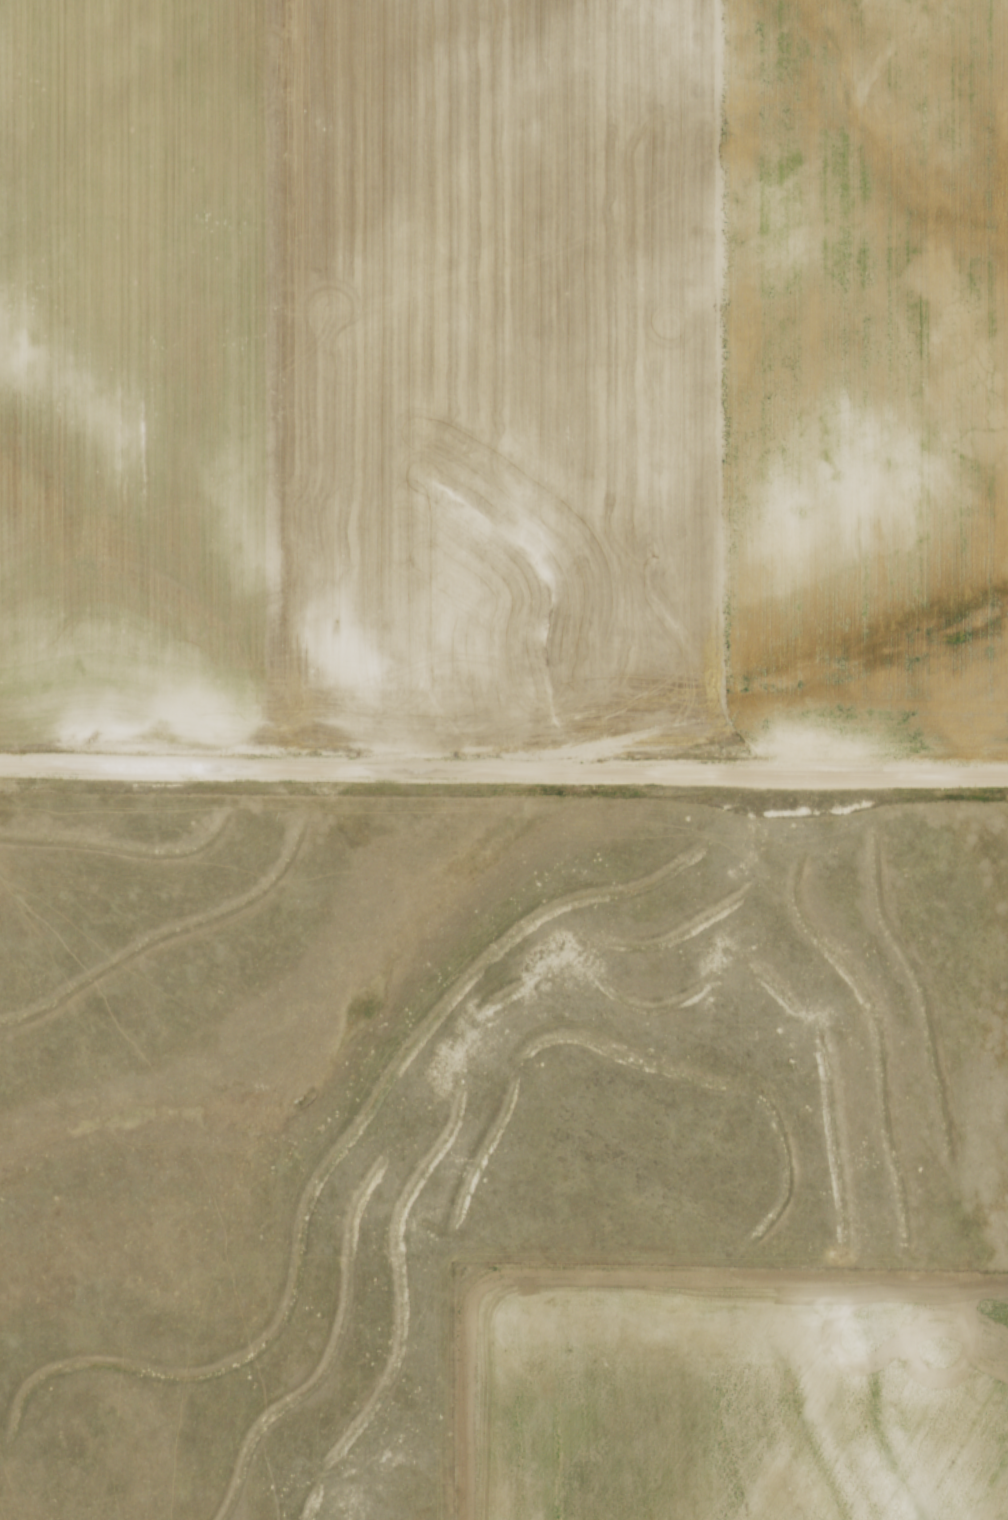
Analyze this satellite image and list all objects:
road: (504, 764)

